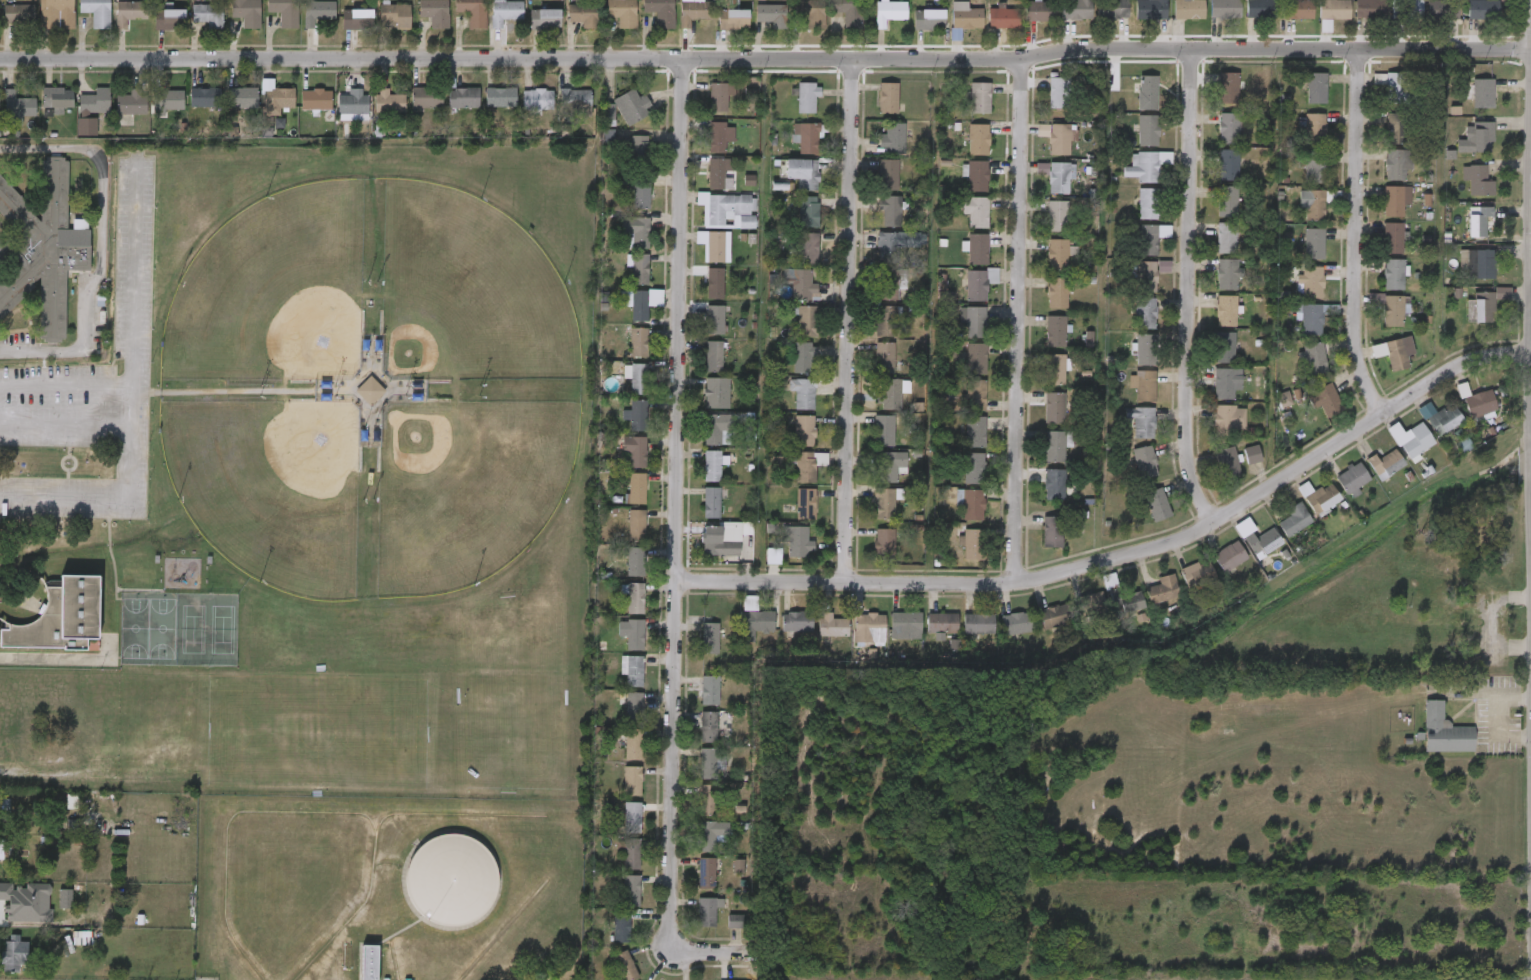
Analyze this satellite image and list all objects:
building: (1279, 0)
building: (1225, 8)
building: (1370, 8)
building: (1076, 9)
building: (1113, 9)
building: (1153, 9)
building: (1188, 9)
building: (1261, 9)
building: (1297, 9)
building: (1334, 9)
building: (1445, 9)
building: (1483, 9)
building: (131, 11)
building: (245, 11)
building: (660, 11)
building: (1040, 11)
building: (60, 12)
building: (96, 12)
building: (284, 12)
building: (317, 12)
building: (434, 12)
building: (472, 12)
building: (622, 12)
building: (693, 12)
building: (1405, 12)
building: (505, 13)
building: (848, 13)
building: (18, 14)
building: (889, 14)
building: (208, 15)
building: (582, 15)
building: (814, 15)
building: (771, 16)
building: (395, 17)
building: (1003, 17)
building: (1061, 17)
building: (1136, 17)
building: (45, 18)
building: (169, 19)
building: (357, 19)
building: (545, 19)
building: (644, 19)
building: (733, 19)
building: (928, 19)
building: (967, 19)
building: (1208, 19)
building: (1243, 19)
building: (1353, 19)
building: (1418, 19)
building: (1096, 20)
building: (1172, 20)
building: (81, 21)
building: (269, 21)
building: (457, 21)
building: (1019, 21)
building: (1282, 21)
building: (1317, 21)
building: (1466, 21)
building: (230, 22)
building: (488, 22)
building: (677, 22)
building: (875, 22)
building: (606, 23)
building: (834, 23)
building: (114, 24)
building: (302, 24)
building: (419, 24)
building: (796, 24)
building: (9, 25)
building: (192, 27)
building: (379, 27)
building: (568, 27)
building: (756, 27)
building: (986, 28)
building: (529, 30)
building: (341, 31)
building: (717, 31)
building: (912, 31)
building: (947, 31)
building: (153, 32)
road: (765, 59)
building: (1228, 87)
building: (1316, 87)
building: (1395, 87)
building: (1148, 92)
building: (1060, 93)
building: (1479, 93)
building: (205, 97)
building: (241, 97)
building: (717, 97)
building: (1375, 97)
building: (56, 98)
building: (428, 98)
building: (463, 98)
building: (500, 98)
building: (806, 98)
building: (887, 98)
building: (979, 98)
building: (167, 99)
building: (315, 99)
building: (537, 99)
building: (575, 99)
building: (277, 100)
building: (1211, 100)
building: (1300, 100)
building: (354, 101)
building: (387, 101)
building: (94, 102)
building: (131, 103)
building: (1041, 103)
building: (633, 105)
building: (1463, 105)
building: (17, 106)
building: (1129, 107)
building: (704, 108)
building: (188, 109)
building: (226, 109)
building: (411, 109)
building: (485, 109)
building: (791, 109)
building: (260, 110)
building: (448, 110)
building: (872, 110)
building: (963, 110)
building: (42, 111)
building: (300, 111)
building: (521, 111)
building: (152, 112)
building: (558, 112)
building: (80, 113)
building: (373, 113)
building: (337, 114)
building: (115, 115)
building: (10, 118)
building: (615, 118)
building: (1314, 126)
building: (1228, 128)
building: (1396, 128)
building: (1148, 130)
building: (716, 137)
building: (806, 137)
building: (1476, 137)
building: (891, 138)
building: (1298, 138)
building: (977, 139)
building: (1059, 139)
building: (1213, 140)
building: (1378, 140)
building: (1131, 142)
building: (635, 148)
building: (704, 148)
building: (790, 149)
building: (877, 149)
building: (1042, 149)
building: (1460, 150)
building: (962, 151)
building: (623, 159)
building: (1397, 164)
building: (1228, 165)
building: (1145, 166)
building: (1313, 167)
park: (323, 168)
park: (560, 170)
building: (717, 172)
building: (807, 175)
building: (888, 175)
building: (1380, 175)
building: (976, 176)
building: (1130, 177)
building: (1212, 177)
building: (1059, 178)
building: (1025, 180)
building: (1297, 181)
building: (1479, 181)
building: (787, 185)
building: (703, 186)
building: (872, 187)
building: (959, 187)
building: (1044, 189)
building: (640, 190)
building: (1461, 192)
building: (763, 197)
building: (1395, 199)
building: (1227, 201)
building: (1148, 203)
building: (1312, 204)
building: (625, 206)
building: (726, 209)
building: (808, 211)
building: (890, 211)
building: (975, 212)
building: (1379, 212)
building: (1211, 213)
building: (1299, 214)
building: (1132, 215)
building: (1058, 217)
building: (1478, 220)
building: (710, 222)
building: (874, 222)
building: (792, 223)
building: (959, 223)
building: (1040, 228)
building: (1461, 232)
building: (639, 233)
road: (1359, 235)
building: (1226, 237)
building: (1393, 237)
building: (1149, 238)
building: (621, 243)
building: (1313, 243)
road: (101, 244)
building: (714, 245)
building: (980, 247)
building: (887, 248)
building: (1376, 249)
building: (807, 250)
building: (1134, 250)
building: (1210, 250)
building: (1057, 254)
building: (1297, 256)
building: (698, 257)
building: (872, 257)
building: (793, 260)
building: (960, 260)
building: (1476, 264)
building: (1041, 266)
building: (36, 269)
building: (640, 269)
building: (1227, 274)
building: (1394, 274)
building: (1460, 275)
building: (1146, 276)
building: (623, 279)
building: (1312, 282)
building: (714, 284)
building: (887, 285)
building: (976, 285)
building: (802, 286)
building: (1210, 286)
building: (1377, 286)
building: (1130, 289)
road: (1188, 289)
park: (367, 293)
building: (1056, 293)
building: (1294, 293)
building: (699, 295)
building: (783, 295)
building: (963, 295)
building: (872, 298)
building: (640, 302)
building: (1041, 304)
building: (1480, 306)
building: (1225, 310)
building: (1393, 311)
building: (1144, 313)
building: (1468, 316)
building: (623, 317)
building: (714, 319)
building: (1310, 319)
building: (1373, 320)
building: (806, 321)
road: (850, 321)
building: (886, 321)
building: (973, 322)
road: (1018, 322)
building: (1209, 322)
building: (1129, 324)
building: (1294, 330)
building: (699, 331)
building: (1055, 331)
building: (791, 333)
building: (869, 333)
building: (957, 333)
road: (135, 342)
building: (638, 342)
building: (1039, 343)
building: (1224, 347)
building: (1145, 349)
building: (1072, 350)
building: (622, 354)
building: (1396, 354)
building: (713, 356)
building: (803, 357)
building: (884, 358)
building: (1314, 358)
building: (976, 359)
building: (1208, 359)
building: (1128, 361)
building: (1382, 364)
building: (698, 368)
building: (788, 369)
building: (868, 369)
building: (1054, 369)
building: (1299, 369)
building: (960, 370)
building: (638, 379)
building: (1040, 381)
building: (1220, 381)
building: (1145, 385)
building: (715, 391)
building: (802, 393)
building: (888, 394)
building: (974, 394)
building: (1208, 395)
building: (1127, 397)
building: (1326, 399)
building: (1445, 402)
building: (1480, 403)
building: (701, 404)
building: (787, 405)
building: (877, 405)
building: (960, 406)
building: (1054, 408)
building: (1309, 411)
building: (638, 415)
building: (1463, 415)
building: (1440, 417)
building: (1038, 419)
building: (1229, 419)
building: (1141, 421)
road: (66, 426)
building: (619, 428)
building: (713, 429)
building: (1423, 430)
building: (803, 431)
building: (883, 431)
building: (974, 431)
building: (1213, 431)
building: (1125, 433)
building: (1411, 439)
building: (700, 441)
building: (788, 442)
building: (868, 442)
building: (958, 443)
building: (1056, 445)
building: (634, 451)
building: (1395, 452)
building: (1252, 454)
building: (619, 462)
building: (1144, 462)
building: (1227, 463)
building: (1385, 464)
building: (711, 466)
building: (889, 466)
building: (805, 468)
building: (973, 468)
building: (1128, 474)
building: (1211, 474)
building: (1369, 475)
building: (698, 477)
building: (793, 477)
building: (876, 477)
building: (1353, 478)
park: (313, 479)
building: (958, 480)
building: (1054, 485)
building: (637, 488)
building: (1336, 491)
road: (116, 494)
building: (1038, 496)
building: (1320, 497)
building: (621, 500)
building: (972, 502)
building: (711, 503)
building: (805, 504)
building: (885, 504)
building: (1158, 505)
road: (677, 506)
park: (160, 514)
building: (696, 514)
building: (870, 514)
building: (789, 515)
building: (954, 515)
building: (1141, 516)
building: (1295, 519)
building: (636, 525)
building: (1054, 531)
building: (1278, 531)
building: (620, 535)
building: (723, 538)
building: (796, 541)
building: (1263, 542)
building: (884, 543)
building: (973, 543)
building: (1036, 543)
park: (455, 545)
building: (705, 551)
building: (868, 552)
building: (782, 553)
building: (1246, 554)
building: (955, 555)
building: (1230, 556)
road: (1129, 557)
building: (636, 562)
building: (1213, 568)
building: (619, 573)
building: (1197, 573)
building: (1180, 584)
building: (1161, 587)
building: (635, 599)
building: (1147, 601)
building: (1127, 602)
building: (1089, 604)
building: (1105, 608)
building: (619, 609)
building: (1077, 613)
building: (733, 614)
building: (60, 617)
building: (1054, 617)
building: (758, 621)
building: (796, 621)
building: (942, 623)
building: (1015, 623)
building: (978, 624)
building: (831, 625)
building: (905, 625)
building: (869, 627)
building: (1037, 628)
building: (741, 634)
building: (634, 635)
building: (780, 635)
building: (962, 635)
building: (1000, 635)
building: (925, 636)
building: (816, 637)
building: (889, 637)
building: (709, 638)
building: (853, 639)
building: (616, 642)
building: (694, 649)
road: (45, 656)
building: (633, 671)
building: (616, 681)
building: (710, 690)
building: (694, 702)
building: (633, 708)
building: (617, 716)
building: (714, 725)
building: (1443, 731)
park: (294, 732)
park: (316, 732)
building: (692, 738)
building: (1427, 742)
building: (633, 744)
building: (618, 758)
building: (709, 764)
building: (695, 775)
building: (632, 782)
building: (616, 792)
building: (709, 800)
building: (689, 811)
building: (632, 817)
building: (616, 828)
building: (711, 834)
building: (695, 845)
building: (632, 854)
building: (614, 864)
building: (707, 873)
building: (722, 877)
building: (690, 884)
building: (631, 891)
building: (615, 902)
building: (49, 910)
building: (707, 912)
building: (17, 914)
building: (735, 921)
building: (691, 922)
building: (622, 927)
building: (721, 932)
building: (604, 938)
building: (67, 948)
building: (13, 952)
road: (711, 953)
building: (625, 966)
building: (353, 968)
building: (608, 971)

